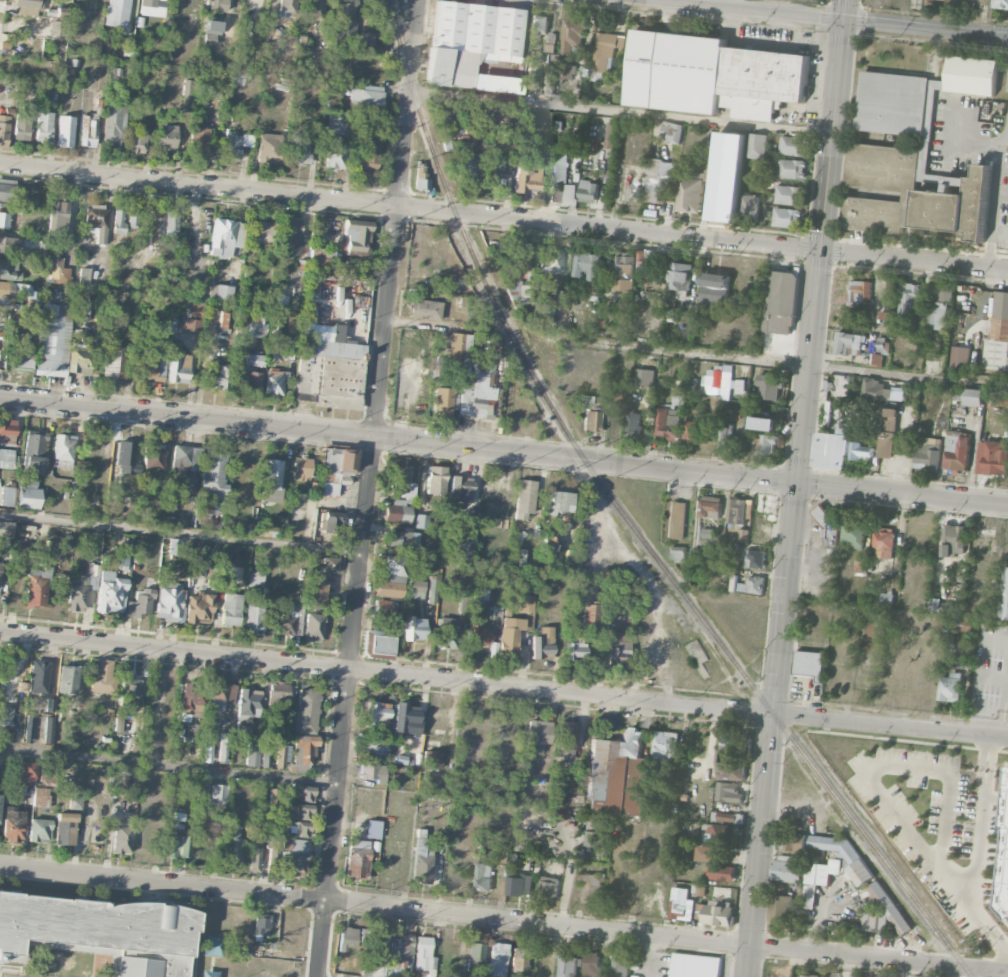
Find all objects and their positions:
building: (947, 0)
building: (1000, 3)
road: (737, 4)
power tower: (820, 4)
building: (215, 5)
building: (24, 7)
building: (152, 7)
building: (288, 7)
building: (315, 9)
building: (117, 13)
road: (834, 18)
traffic signals: (843, 19)
building: (343, 20)
building: (538, 25)
building: (55, 28)
building: (572, 33)
building: (209, 39)
building: (366, 39)
road: (750, 39)
building: (473, 45)
building: (606, 50)
building: (569, 71)
building: (532, 75)
building: (712, 75)
building: (972, 75)
building: (238, 78)
building: (549, 78)
building: (187, 89)
building: (366, 96)
building: (893, 102)
road: (619, 112)
building: (113, 123)
building: (44, 125)
building: (4, 128)
building: (21, 128)
building: (88, 130)
building: (65, 131)
building: (671, 131)
building: (610, 135)
building: (167, 137)
building: (444, 137)
building: (136, 141)
building: (199, 141)
building: (335, 141)
road: (962, 141)
building: (236, 143)
building: (756, 145)
building: (793, 145)
building: (269, 148)
building: (298, 148)
building: (367, 155)
road: (728, 158)
building: (468, 165)
road: (1002, 167)
building: (791, 168)
building: (496, 169)
building: (658, 177)
building: (421, 178)
building: (523, 178)
building: (560, 180)
building: (10, 190)
building: (588, 190)
building: (690, 194)
building: (789, 194)
building: (910, 194)
road: (993, 196)
building: (749, 208)
building: (57, 216)
road: (504, 216)
building: (786, 217)
building: (4, 220)
building: (97, 220)
building: (132, 220)
building: (171, 223)
building: (118, 225)
building: (156, 226)
road: (999, 230)
building: (261, 233)
building: (291, 233)
building: (356, 236)
building: (224, 237)
building: (22, 246)
traffic signals: (819, 251)
building: (323, 260)
building: (550, 260)
building: (644, 262)
building: (587, 264)
road: (697, 264)
building: (9, 269)
building: (56, 271)
building: (122, 271)
building: (624, 271)
building: (680, 275)
building: (83, 276)
building: (528, 276)
building: (297, 280)
building: (715, 288)
building: (219, 292)
building: (517, 292)
building: (860, 292)
building: (595, 295)
building: (311, 297)
building: (908, 298)
building: (279, 300)
building: (780, 301)
building: (939, 305)
building: (79, 309)
building: (424, 309)
building: (194, 310)
building: (886, 314)
building: (672, 315)
building: (224, 320)
building: (240, 323)
building: (601, 323)
building: (171, 324)
building: (190, 325)
building: (161, 326)
building: (256, 327)
building: (275, 327)
road: (438, 329)
building: (920, 329)
building: (316, 331)
building: (998, 334)
building: (52, 340)
building: (848, 342)
building: (871, 343)
building: (881, 343)
building: (491, 345)
building: (458, 351)
building: (959, 357)
building: (876, 359)
building: (79, 360)
building: (255, 360)
building: (21, 361)
road: (771, 361)
building: (114, 362)
building: (148, 366)
building: (178, 367)
building: (215, 376)
building: (645, 376)
building: (252, 382)
building: (274, 382)
building: (720, 383)
building: (770, 385)
building: (875, 389)
building: (477, 391)
building: (677, 392)
building: (957, 393)
building: (974, 396)
building: (588, 398)
building: (1004, 398)
building: (442, 402)
building: (592, 421)
building: (634, 423)
building: (767, 423)
building: (667, 425)
building: (695, 430)
building: (7, 432)
building: (888, 432)
building: (726, 437)
building: (755, 443)
building: (769, 443)
building: (832, 448)
building: (34, 449)
building: (862, 450)
building: (958, 450)
building: (62, 451)
road: (504, 451)
building: (928, 452)
building: (96, 453)
building: (153, 456)
building: (6, 458)
building: (126, 458)
building: (995, 458)
building: (185, 460)
building: (338, 466)
building: (300, 469)
building: (214, 474)
building: (270, 479)
building: (435, 480)
traffic signals: (796, 483)
road: (369, 488)
road: (795, 488)
building: (461, 489)
building: (409, 495)
building: (7, 496)
building: (28, 498)
building: (524, 498)
building: (88, 503)
building: (559, 506)
building: (710, 506)
building: (766, 506)
building: (204, 510)
building: (737, 510)
railway: (622, 513)
building: (824, 514)
building: (676, 519)
building: (421, 521)
building: (331, 522)
building: (5, 529)
building: (707, 533)
road: (181, 534)
building: (854, 534)
building: (742, 535)
building: (549, 538)
building: (400, 540)
building: (955, 540)
building: (65, 542)
building: (885, 542)
building: (466, 545)
building: (173, 546)
building: (678, 553)
building: (753, 559)
building: (123, 560)
building: (330, 565)
building: (860, 567)
building: (392, 578)
building: (256, 579)
building: (748, 584)
building: (36, 587)
building: (417, 590)
building: (432, 591)
building: (79, 592)
building: (480, 592)
building: (111, 593)
building: (315, 593)
building: (1003, 596)
building: (886, 598)
building: (169, 602)
building: (140, 603)
building: (524, 603)
building: (938, 605)
building: (385, 607)
building: (199, 608)
building: (231, 609)
building: (591, 613)
building: (254, 617)
building: (287, 618)
building: (965, 625)
building: (313, 627)
building: (414, 628)
building: (447, 633)
building: (478, 635)
building: (510, 635)
building: (542, 643)
building: (377, 644)
building: (575, 648)
building: (619, 648)
building: (809, 664)
building: (103, 676)
building: (38, 677)
building: (68, 679)
road: (503, 686)
building: (950, 686)
building: (130, 691)
building: (223, 693)
building: (281, 693)
building: (192, 700)
building: (50, 706)
building: (248, 708)
building: (307, 711)
building: (376, 712)
building: (6, 718)
building: (406, 718)
building: (23, 731)
building: (48, 734)
building: (538, 735)
building: (567, 735)
building: (729, 738)
road: (987, 744)
building: (666, 745)
building: (223, 747)
building: (372, 747)
building: (303, 753)
building: (252, 755)
building: (265, 755)
building: (282, 756)
building: (432, 759)
road: (169, 768)
building: (28, 771)
building: (731, 771)
road: (875, 771)
building: (373, 772)
building: (618, 775)
building: (728, 791)
building: (201, 792)
building: (306, 793)
building: (218, 794)
building: (41, 797)
building: (275, 797)
building: (75, 803)
building: (304, 811)
building: (727, 816)
building: (13, 824)
building: (63, 826)
building: (302, 829)
building: (374, 829)
building: (40, 830)
building: (596, 830)
building: (720, 832)
building: (122, 839)
building: (794, 841)
road: (977, 843)
building: (175, 845)
building: (233, 846)
building: (713, 853)
building: (292, 855)
building: (254, 858)
building: (358, 859)
building: (421, 859)
building: (271, 865)
building: (787, 868)
building: (823, 871)
building: (722, 872)
building: (861, 874)
building: (484, 877)
building: (520, 885)
building: (1006, 885)
building: (593, 887)
building: (549, 888)
road: (567, 892)
building: (680, 904)
building: (780, 907)
building: (718, 914)
road: (482, 917)
building: (873, 920)
road: (819, 925)
building: (260, 926)
building: (100, 932)
building: (348, 939)
road: (1001, 947)
building: (375, 954)
building: (401, 954)
building: (423, 955)
building: (474, 958)
building: (497, 959)
building: (519, 959)
parking lot: (651, 963)
building: (591, 964)
building: (567, 965)
building: (695, 965)
building: (620, 967)
road: (986, 969)
railway: (968, 972)
building: (806, 975)

